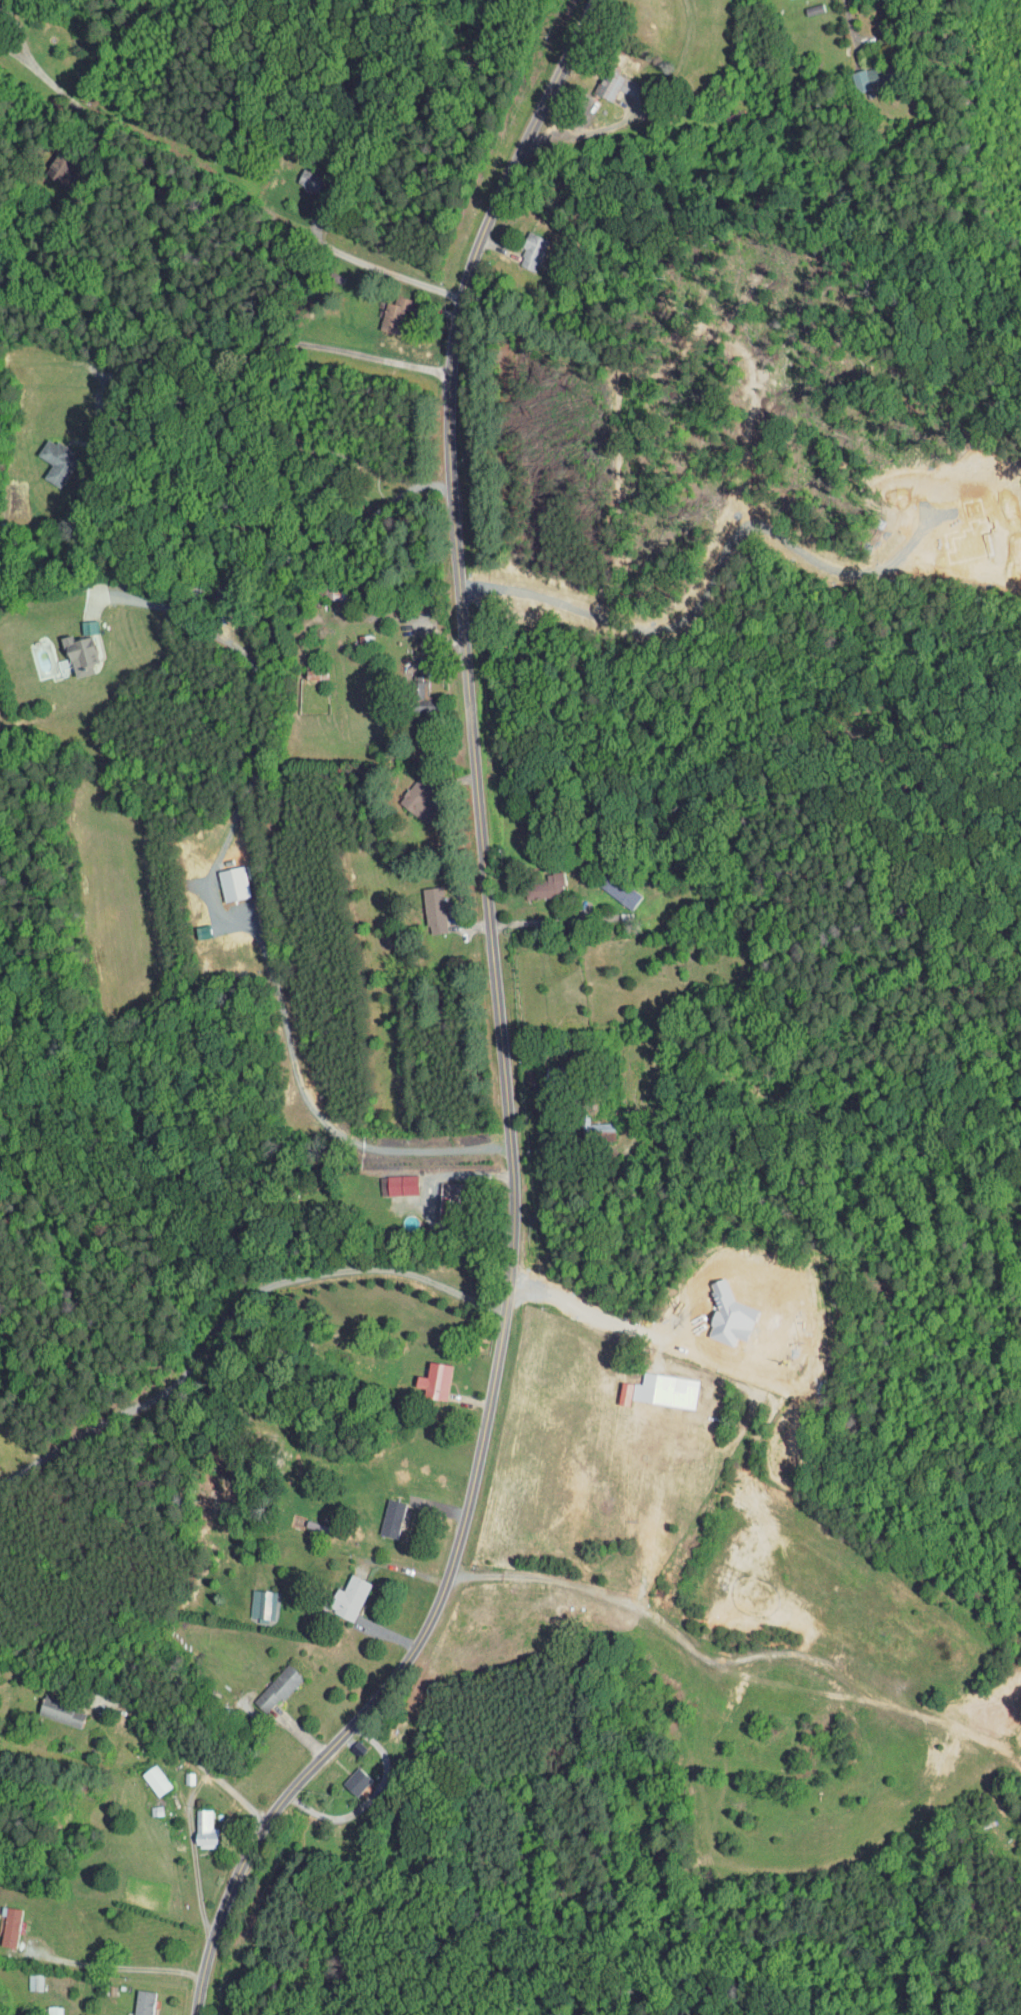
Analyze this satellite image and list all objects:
road: (851, 24)
building: (855, 73)
building: (601, 80)
road: (581, 134)
building: (520, 247)
road: (376, 268)
road: (175, 284)
building: (382, 307)
road: (263, 419)
building: (45, 456)
road: (289, 557)
road: (711, 582)
building: (67, 650)
building: (407, 694)
road: (258, 757)
building: (406, 795)
building: (221, 879)
building: (532, 882)
building: (422, 905)
road: (558, 919)
road: (505, 1034)
road: (315, 1111)
building: (587, 1126)
building: (389, 1180)
road: (421, 1199)
road: (232, 1313)
road: (591, 1320)
building: (422, 1375)
building: (656, 1385)
building: (612, 1388)
building: (378, 1512)
road: (453, 1514)
road: (403, 1568)
building: (336, 1593)
road: (640, 1597)
building: (251, 1599)
road: (653, 1615)
building: (264, 1683)
building: (48, 1707)
road: (190, 1753)
building: (143, 1774)
building: (343, 1776)
building: (191, 1824)
road: (194, 1858)
building: (2, 1920)
road: (116, 1964)
building: (131, 2000)
building: (43, 2008)

